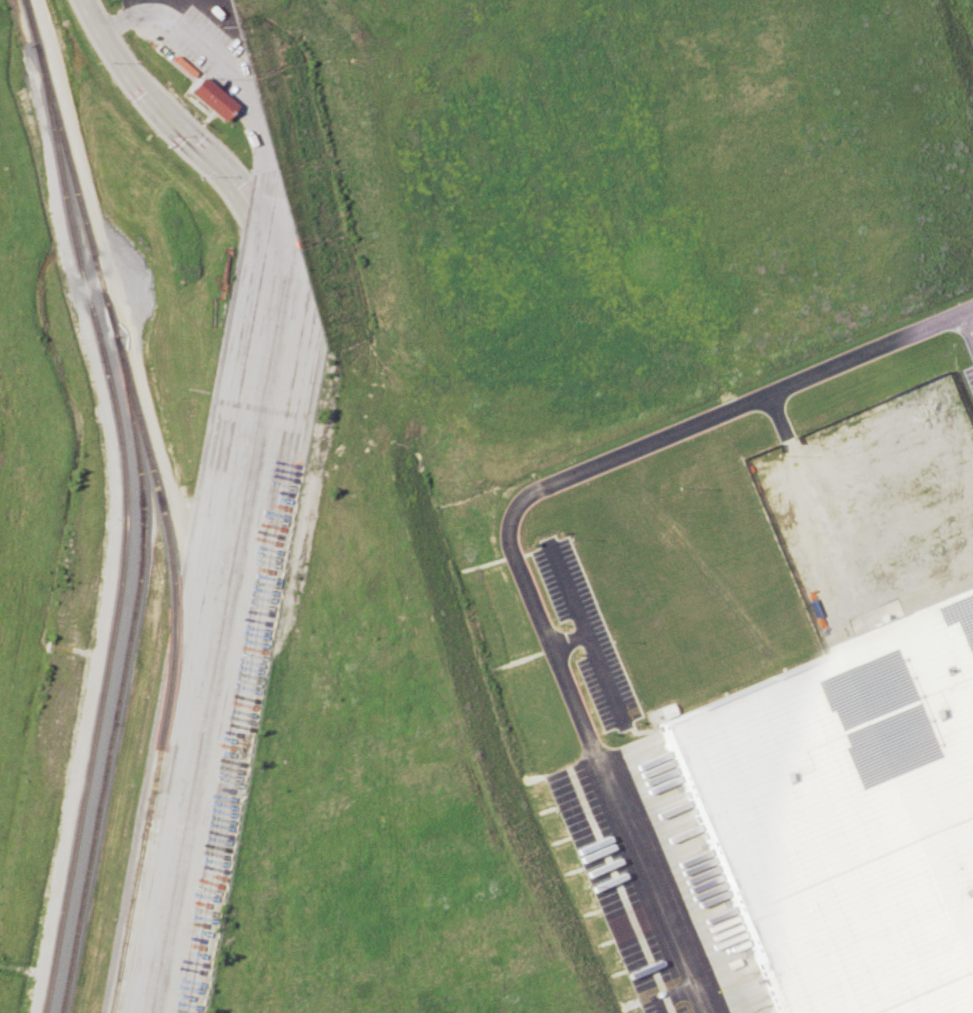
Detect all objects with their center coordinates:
road: (243, 88)
railway: (45, 91)
building: (211, 97)
road: (182, 130)
road: (964, 336)
railway: (159, 500)
road: (510, 529)
railway: (122, 675)
building: (847, 817)

